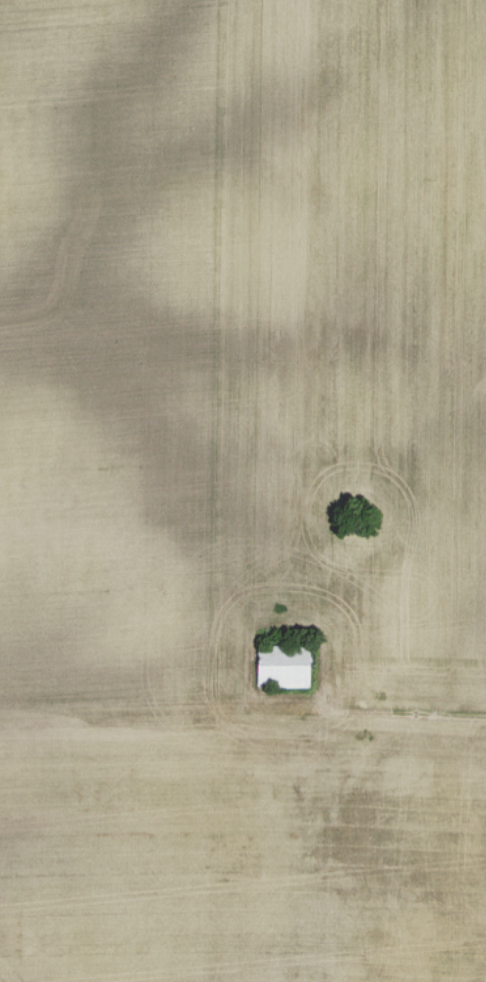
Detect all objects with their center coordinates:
building: (285, 669)

